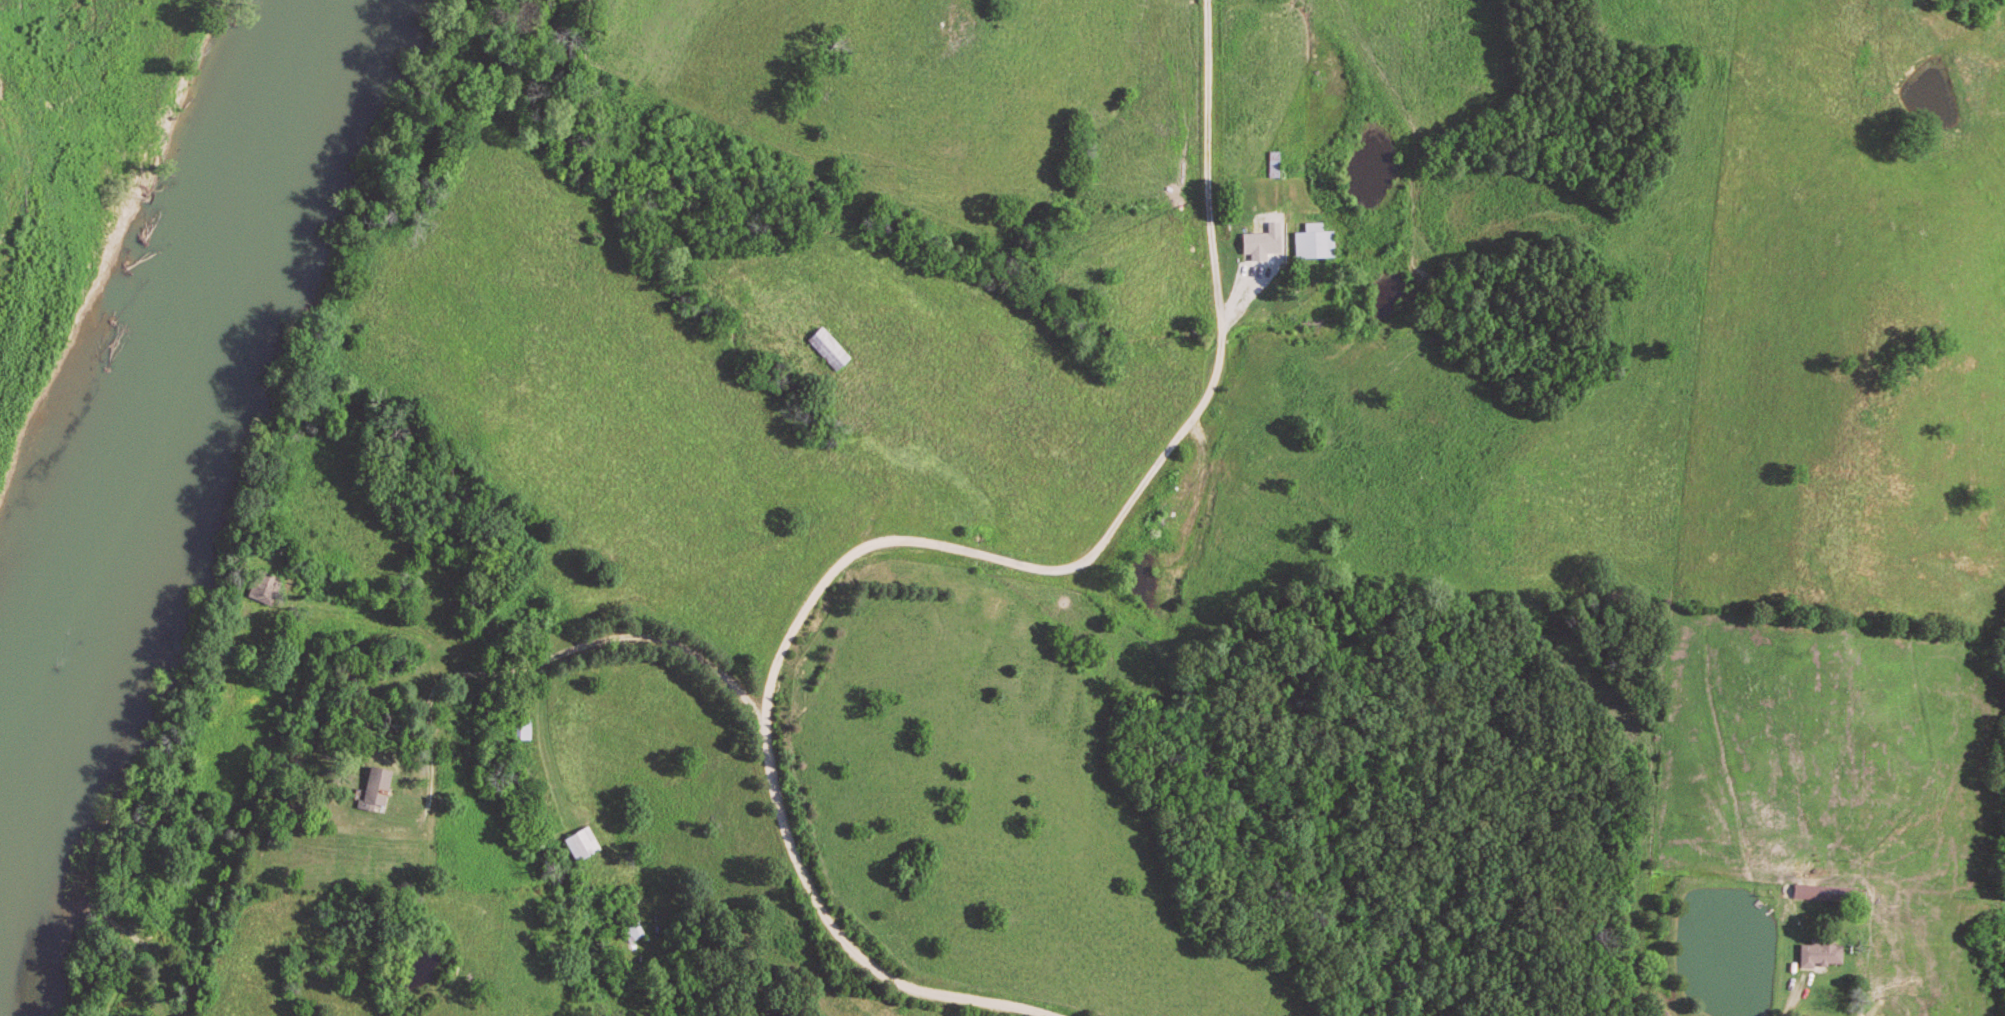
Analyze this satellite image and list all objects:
road: (87, 17)
building: (1264, 243)
building: (1314, 243)
road: (1287, 307)
road: (1191, 407)
river: (183, 484)
road: (1203, 494)
road: (857, 550)
road: (586, 644)
road: (549, 743)
road: (432, 780)
building: (381, 786)
building: (583, 845)
building: (1828, 893)
building: (1824, 955)
road: (1798, 996)

